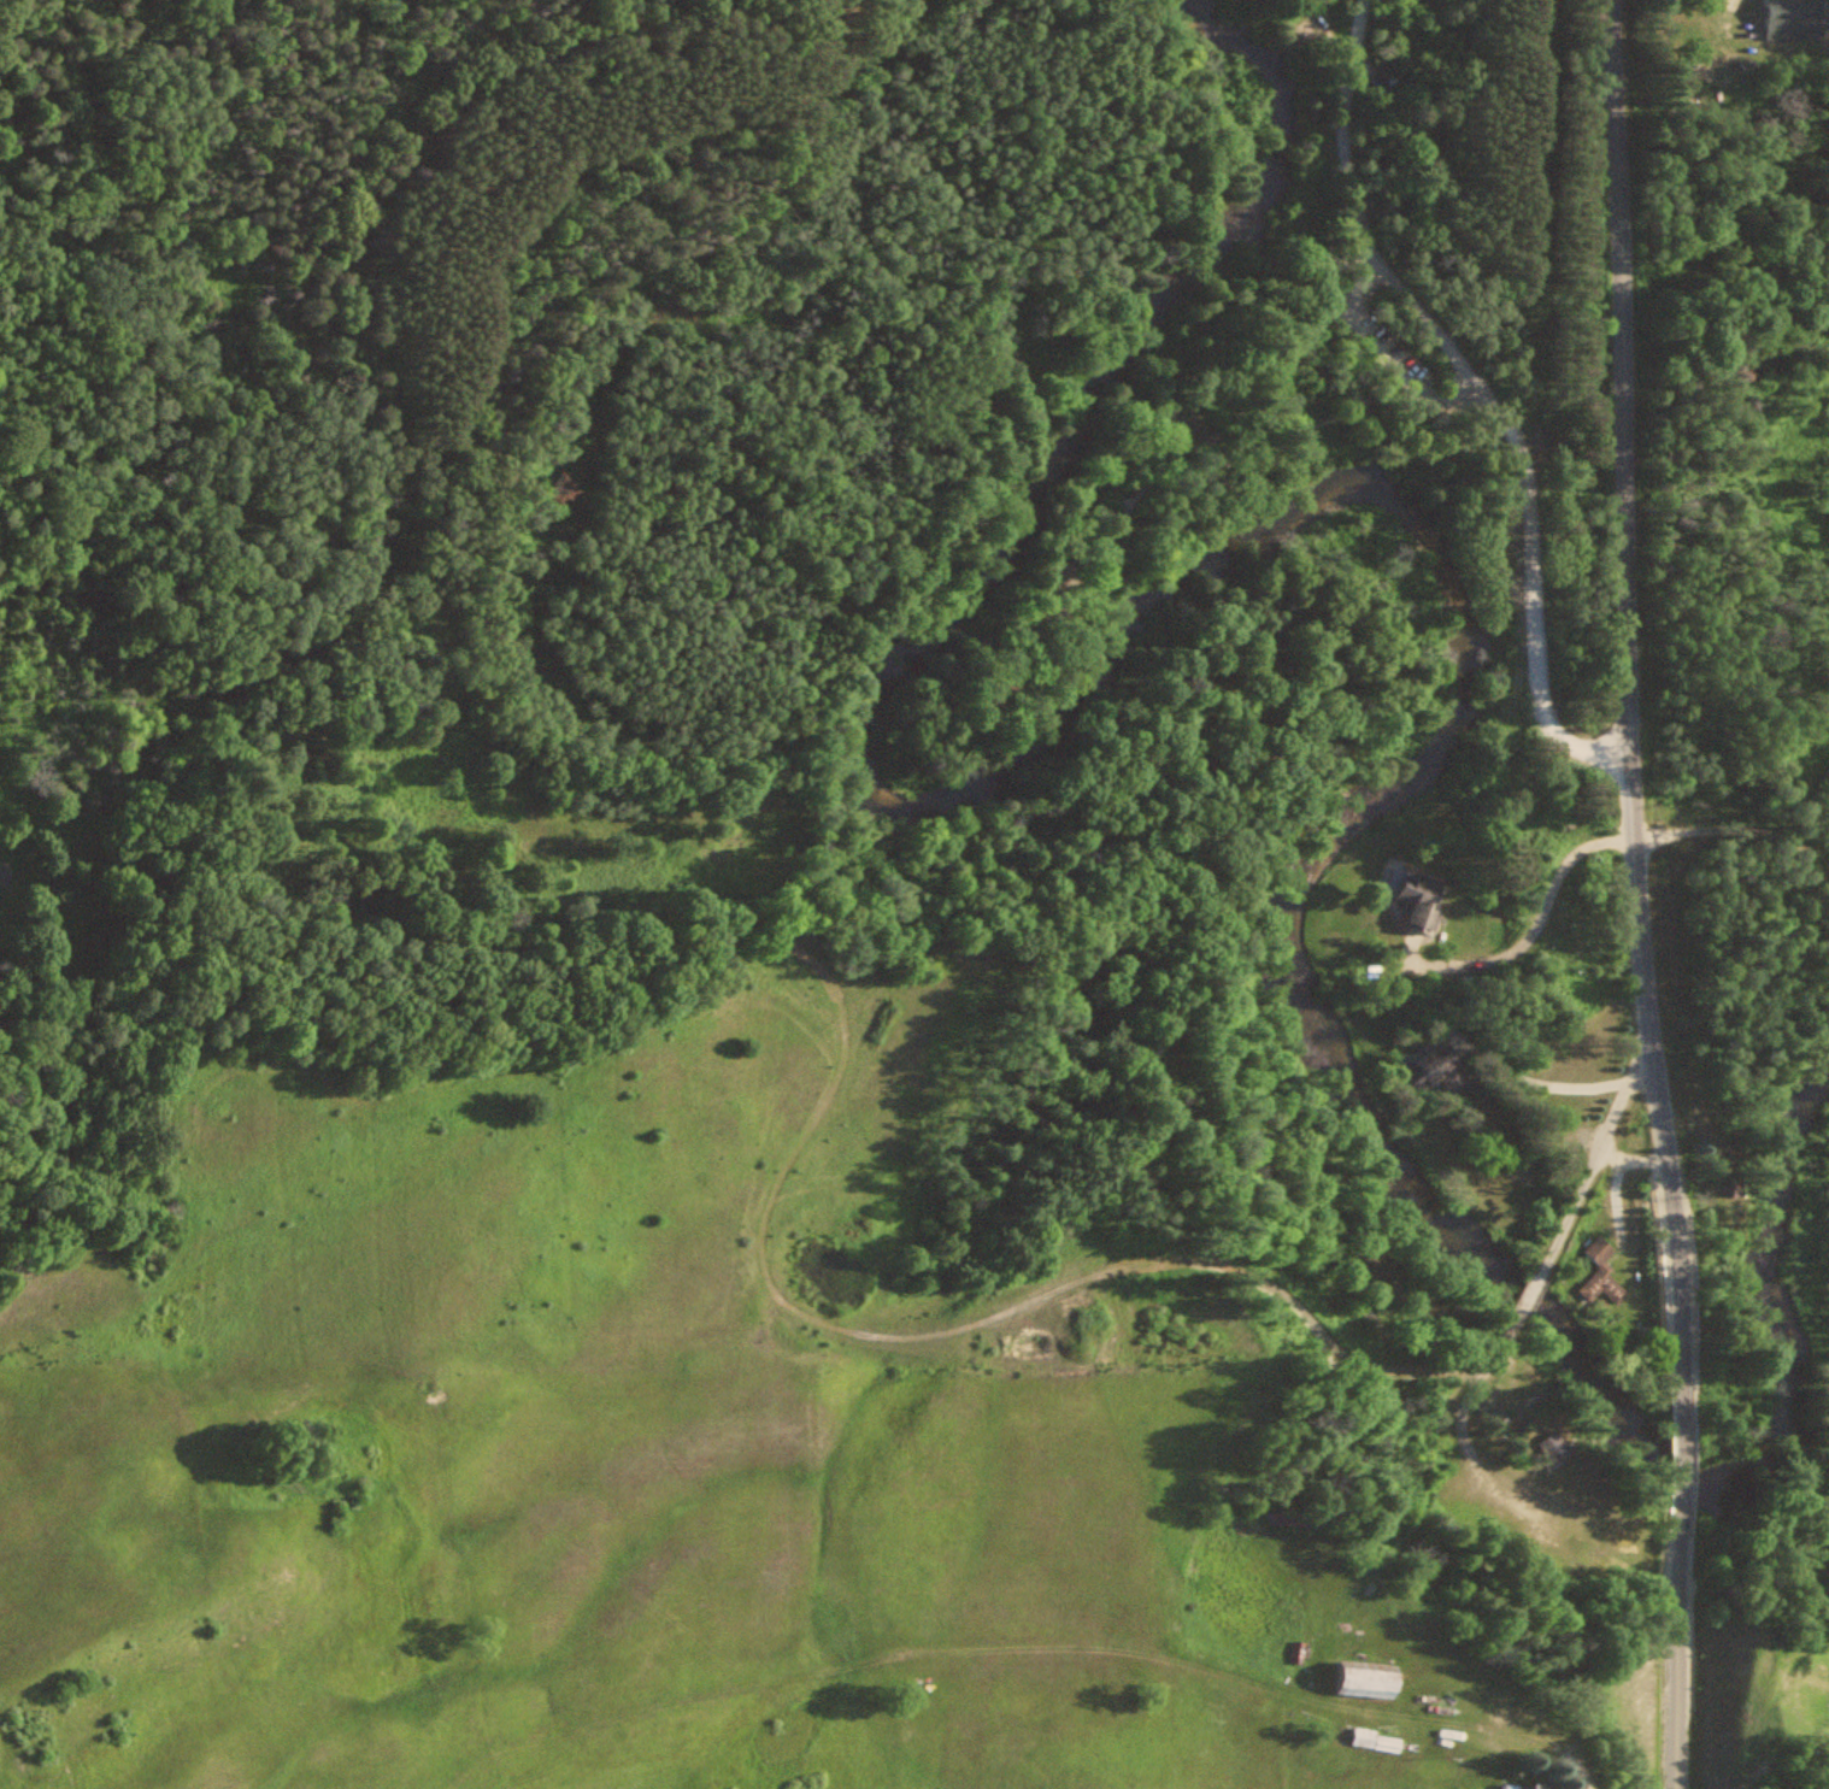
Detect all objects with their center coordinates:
building: (1780, 18)
park: (1430, 240)
road: (1378, 355)
road: (1481, 392)
road: (1125, 520)
river: (1428, 530)
road: (1627, 706)
road: (1733, 831)
building: (1411, 900)
building: (1419, 1070)
road: (1593, 1152)
building: (1598, 1273)
road: (1528, 1290)
road: (1468, 1400)
building: (1547, 1448)
road: (1680, 1464)
road: (1677, 1654)
building: (1355, 1679)
road: (1565, 1762)
building: (1510, 1785)

